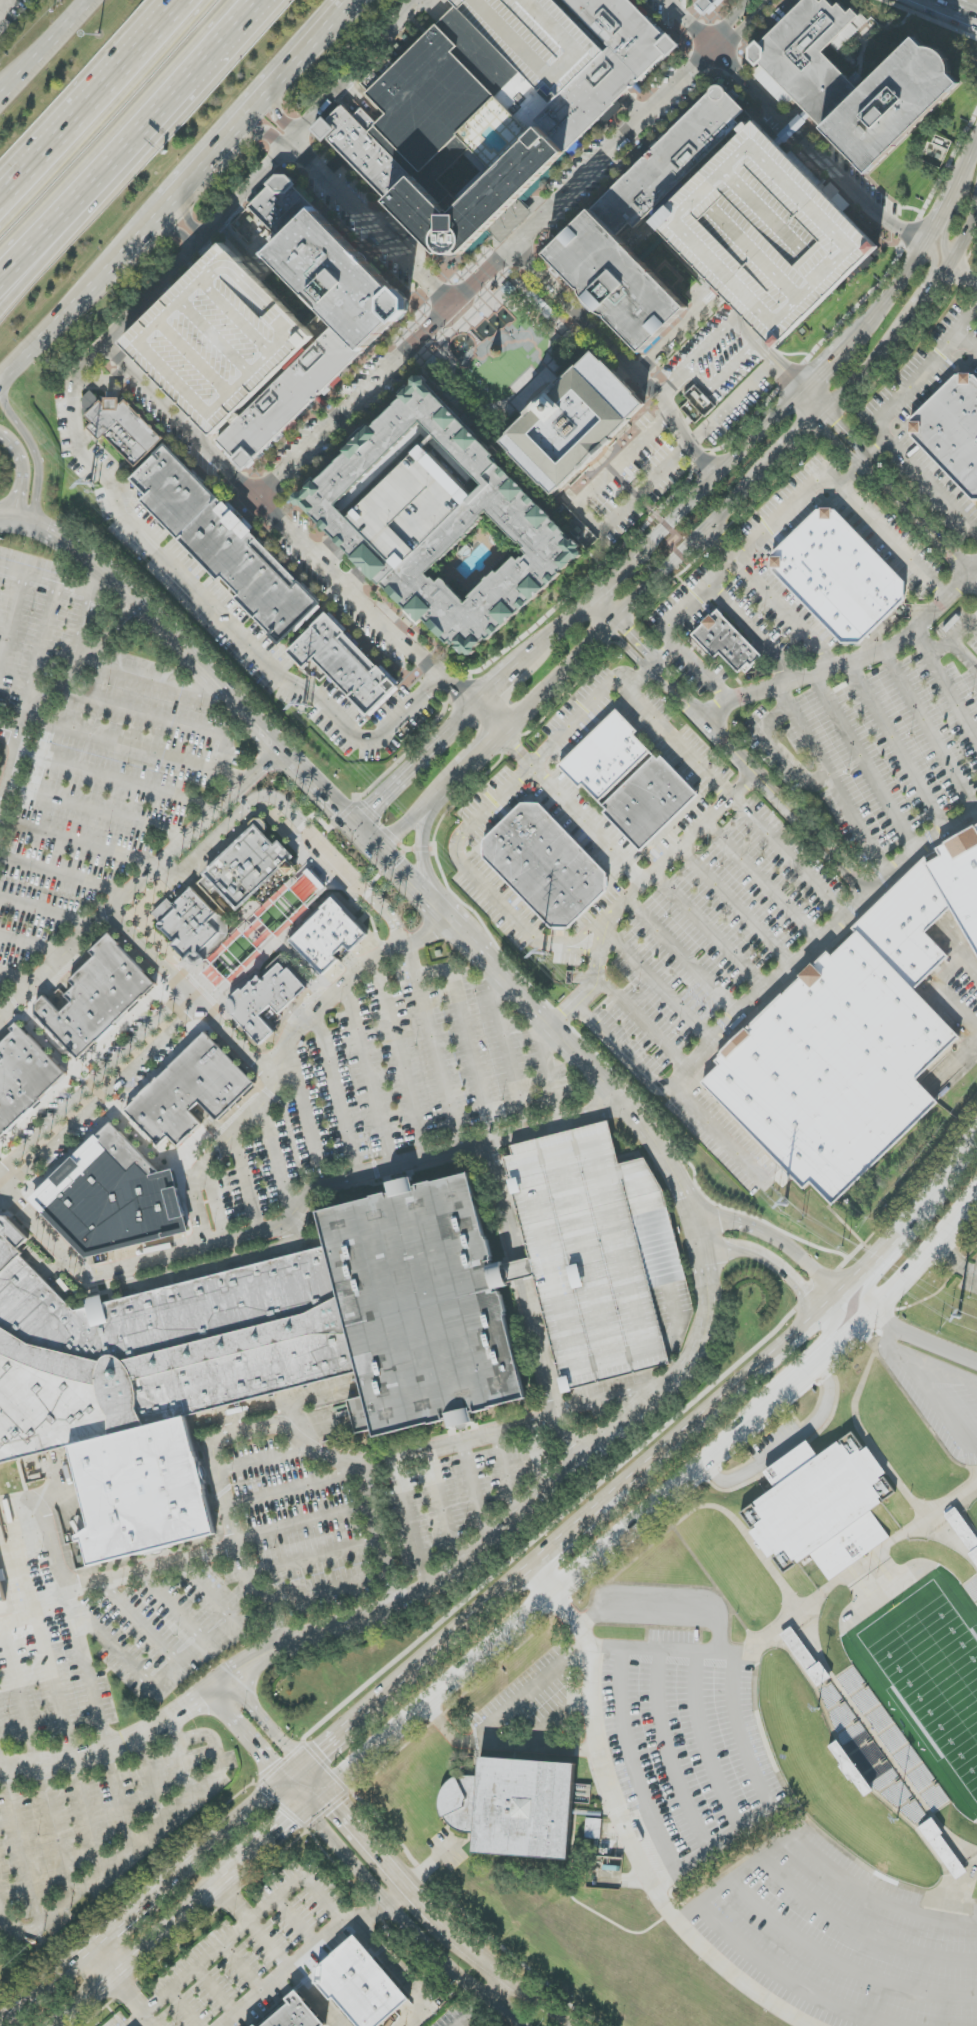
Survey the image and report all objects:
road: (4, 5)
building: (709, 6)
road: (959, 6)
road: (348, 7)
road: (731, 24)
road: (746, 28)
building: (537, 39)
parking garage: (537, 39)
road: (50, 42)
building: (806, 60)
road: (298, 62)
building: (606, 68)
road: (5, 90)
road: (89, 92)
building: (892, 104)
road: (790, 128)
building: (448, 136)
road: (134, 145)
road: (213, 156)
road: (966, 163)
road: (262, 172)
building: (659, 173)
road: (351, 209)
building: (275, 210)
road: (187, 218)
road: (939, 220)
road: (949, 226)
road: (145, 230)
road: (175, 232)
building: (766, 232)
parking garage: (766, 232)
road: (46, 250)
parking lot: (975, 264)
road: (964, 269)
road: (485, 274)
road: (927, 281)
road: (887, 295)
road: (909, 319)
road: (62, 322)
road: (737, 324)
road: (966, 336)
building: (219, 340)
parking garage: (219, 340)
building: (346, 341)
road: (621, 356)
road: (766, 356)
road: (825, 365)
road: (924, 366)
road: (671, 379)
road: (700, 379)
road: (813, 401)
parking lot: (935, 417)
building: (573, 423)
building: (122, 426)
building: (952, 428)
road: (800, 435)
road: (28, 444)
road: (21, 470)
road: (920, 475)
road: (712, 478)
road: (900, 497)
road: (587, 515)
building: (440, 522)
road: (285, 529)
road: (889, 540)
building: (225, 544)
road: (740, 551)
road: (973, 570)
building: (837, 573)
road: (58, 581)
road: (605, 584)
road: (638, 594)
road: (772, 594)
road: (202, 598)
road: (599, 612)
road: (12, 618)
road: (752, 630)
road: (554, 632)
road: (79, 634)
building: (726, 642)
road: (924, 642)
road: (41, 647)
road: (964, 655)
building: (345, 664)
road: (658, 670)
road: (76, 672)
road: (940, 672)
road: (703, 673)
road: (153, 679)
road: (497, 684)
road: (592, 705)
road: (463, 716)
road: (487, 717)
road: (930, 729)
road: (682, 742)
road: (727, 743)
road: (898, 745)
parking lot: (91, 748)
road: (136, 748)
road: (480, 748)
road: (777, 750)
road: (866, 761)
road: (11, 771)
road: (456, 772)
road: (109, 776)
road: (403, 776)
building: (629, 780)
road: (834, 780)
road: (571, 806)
road: (95, 808)
road: (290, 811)
road: (415, 813)
parking lot: (582, 814)
road: (815, 835)
road: (76, 842)
road: (791, 857)
parking lot: (794, 858)
road: (427, 864)
building: (545, 865)
building: (246, 868)
road: (64, 875)
road: (475, 877)
road: (140, 881)
road: (765, 882)
building: (308, 888)
road: (737, 907)
building: (192, 926)
road: (710, 931)
building: (328, 934)
road: (31, 947)
road: (684, 957)
road: (18, 977)
road: (941, 984)
road: (659, 985)
building: (97, 997)
road: (756, 997)
road: (190, 999)
building: (265, 999)
building: (61, 1001)
road: (4, 1010)
road: (464, 1021)
road: (644, 1025)
building: (854, 1037)
road: (507, 1052)
road: (402, 1059)
road: (283, 1060)
road: (438, 1062)
road: (549, 1073)
road: (368, 1075)
building: (23, 1076)
parking lot: (397, 1079)
road: (91, 1080)
building: (191, 1092)
road: (336, 1095)
road: (104, 1098)
road: (306, 1120)
road: (553, 1125)
road: (720, 1135)
road: (279, 1159)
road: (248, 1187)
building: (113, 1198)
road: (688, 1198)
building: (1, 1206)
road: (777, 1240)
road: (232, 1244)
building: (599, 1256)
parking lot: (599, 1256)
road: (955, 1258)
road: (770, 1262)
road: (890, 1265)
road: (882, 1316)
road: (795, 1330)
road: (932, 1343)
road: (814, 1347)
building: (253, 1353)
road: (927, 1387)
road: (653, 1390)
road: (603, 1401)
road: (562, 1413)
road: (573, 1437)
road: (788, 1443)
road: (338, 1460)
building: (821, 1508)
road: (650, 1513)
road: (376, 1519)
road: (304, 1521)
building: (963, 1531)
road: (564, 1536)
parking lot: (304, 1549)
road: (544, 1582)
road: (210, 1592)
building: (2, 1593)
road: (68, 1599)
road: (259, 1599)
road: (297, 1599)
road: (177, 1606)
road: (665, 1613)
road: (449, 1638)
parking lot: (42, 1647)
building: (806, 1657)
park: (929, 1670)
road: (138, 1671)
road: (86, 1674)
road: (55, 1682)
road: (20, 1689)
road: (528, 1691)
road: (267, 1721)
road: (740, 1728)
road: (244, 1739)
road: (336, 1740)
road: (703, 1740)
traffic signals: (324, 1751)
road: (666, 1751)
road: (0, 1752)
road: (514, 1752)
road: (632, 1761)
traffic signals: (268, 1767)
building: (882, 1775)
road: (315, 1781)
traffic signals: (339, 1807)
building: (514, 1807)
parking lot: (97, 1816)
traffic signals: (295, 1821)
road: (237, 1823)
building: (593, 1828)
road: (146, 1836)
road: (278, 1836)
road: (631, 1842)
road: (817, 1858)
road: (386, 1864)
road: (432, 1865)
road: (396, 1898)
road: (323, 1899)
road: (392, 1912)
road: (131, 1914)
road: (858, 1933)
road: (155, 1942)
road: (218, 1951)
parking lot: (2, 1955)
road: (277, 1956)
road: (303, 1956)
road: (102, 1964)
road: (843, 1965)
road: (787, 1974)
road: (401, 1977)
road: (508, 1981)
building: (360, 1985)
road: (45, 1987)
road: (494, 1990)
road: (134, 2001)
building: (296, 2014)
road: (474, 2014)

